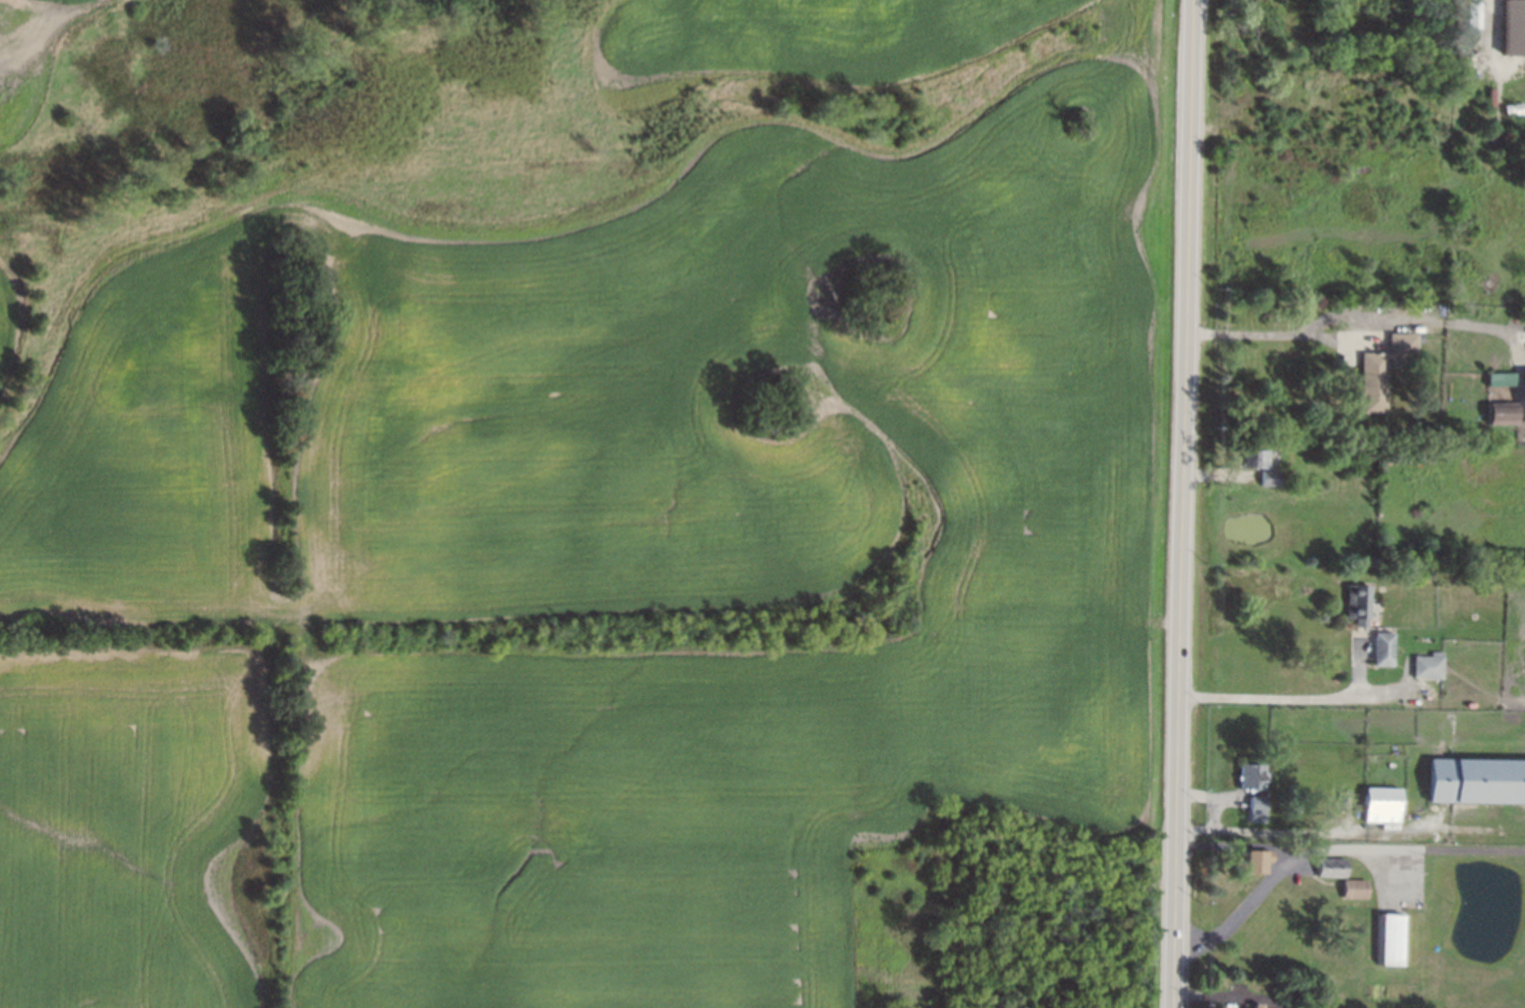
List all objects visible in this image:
building: (1473, 14)
building: (1514, 27)
crop: (802, 43)
crop: (13, 85)
crop: (11, 317)
road: (1264, 333)
building: (1402, 344)
building: (1502, 379)
building: (1373, 383)
building: (1503, 413)
crop: (143, 450)
building: (1261, 458)
building: (1270, 478)
road: (1183, 504)
crop: (726, 539)
building: (1359, 601)
building: (1385, 649)
building: (1429, 666)
road: (1275, 696)
building: (1252, 776)
building: (1477, 780)
building: (1384, 805)
building: (1258, 808)
crop: (134, 831)
road: (1332, 846)
building: (1255, 860)
building: (1332, 867)
building: (1356, 888)
building: (1392, 940)
building: (1258, 1005)

